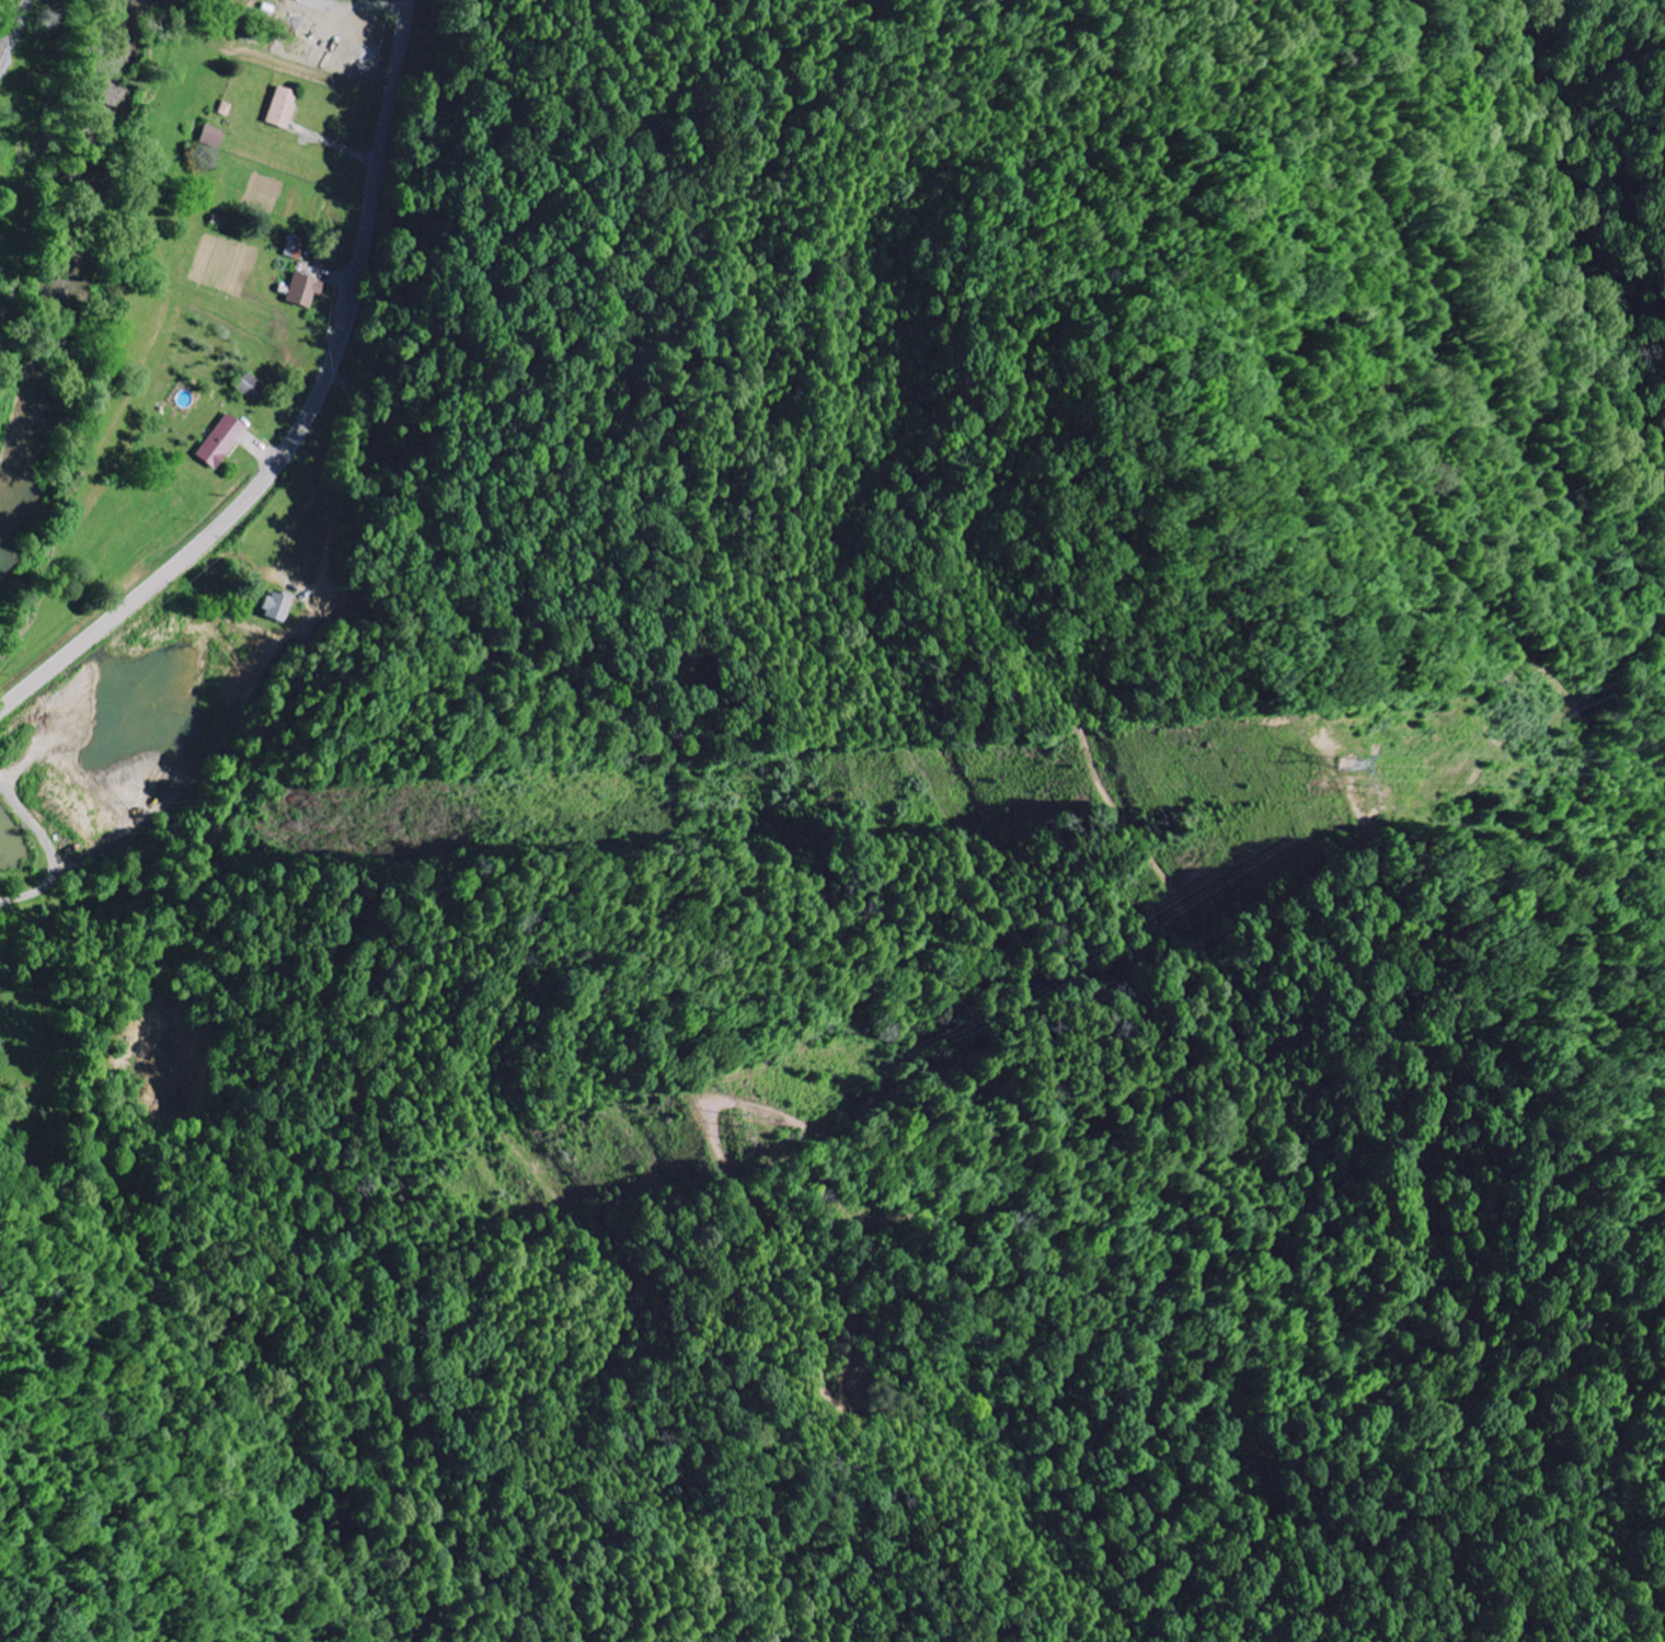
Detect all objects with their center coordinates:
railway: (9, 21)
building: (284, 107)
building: (214, 136)
road: (44, 152)
river: (62, 262)
building: (307, 290)
road: (312, 416)
building: (222, 440)
building: (278, 605)

